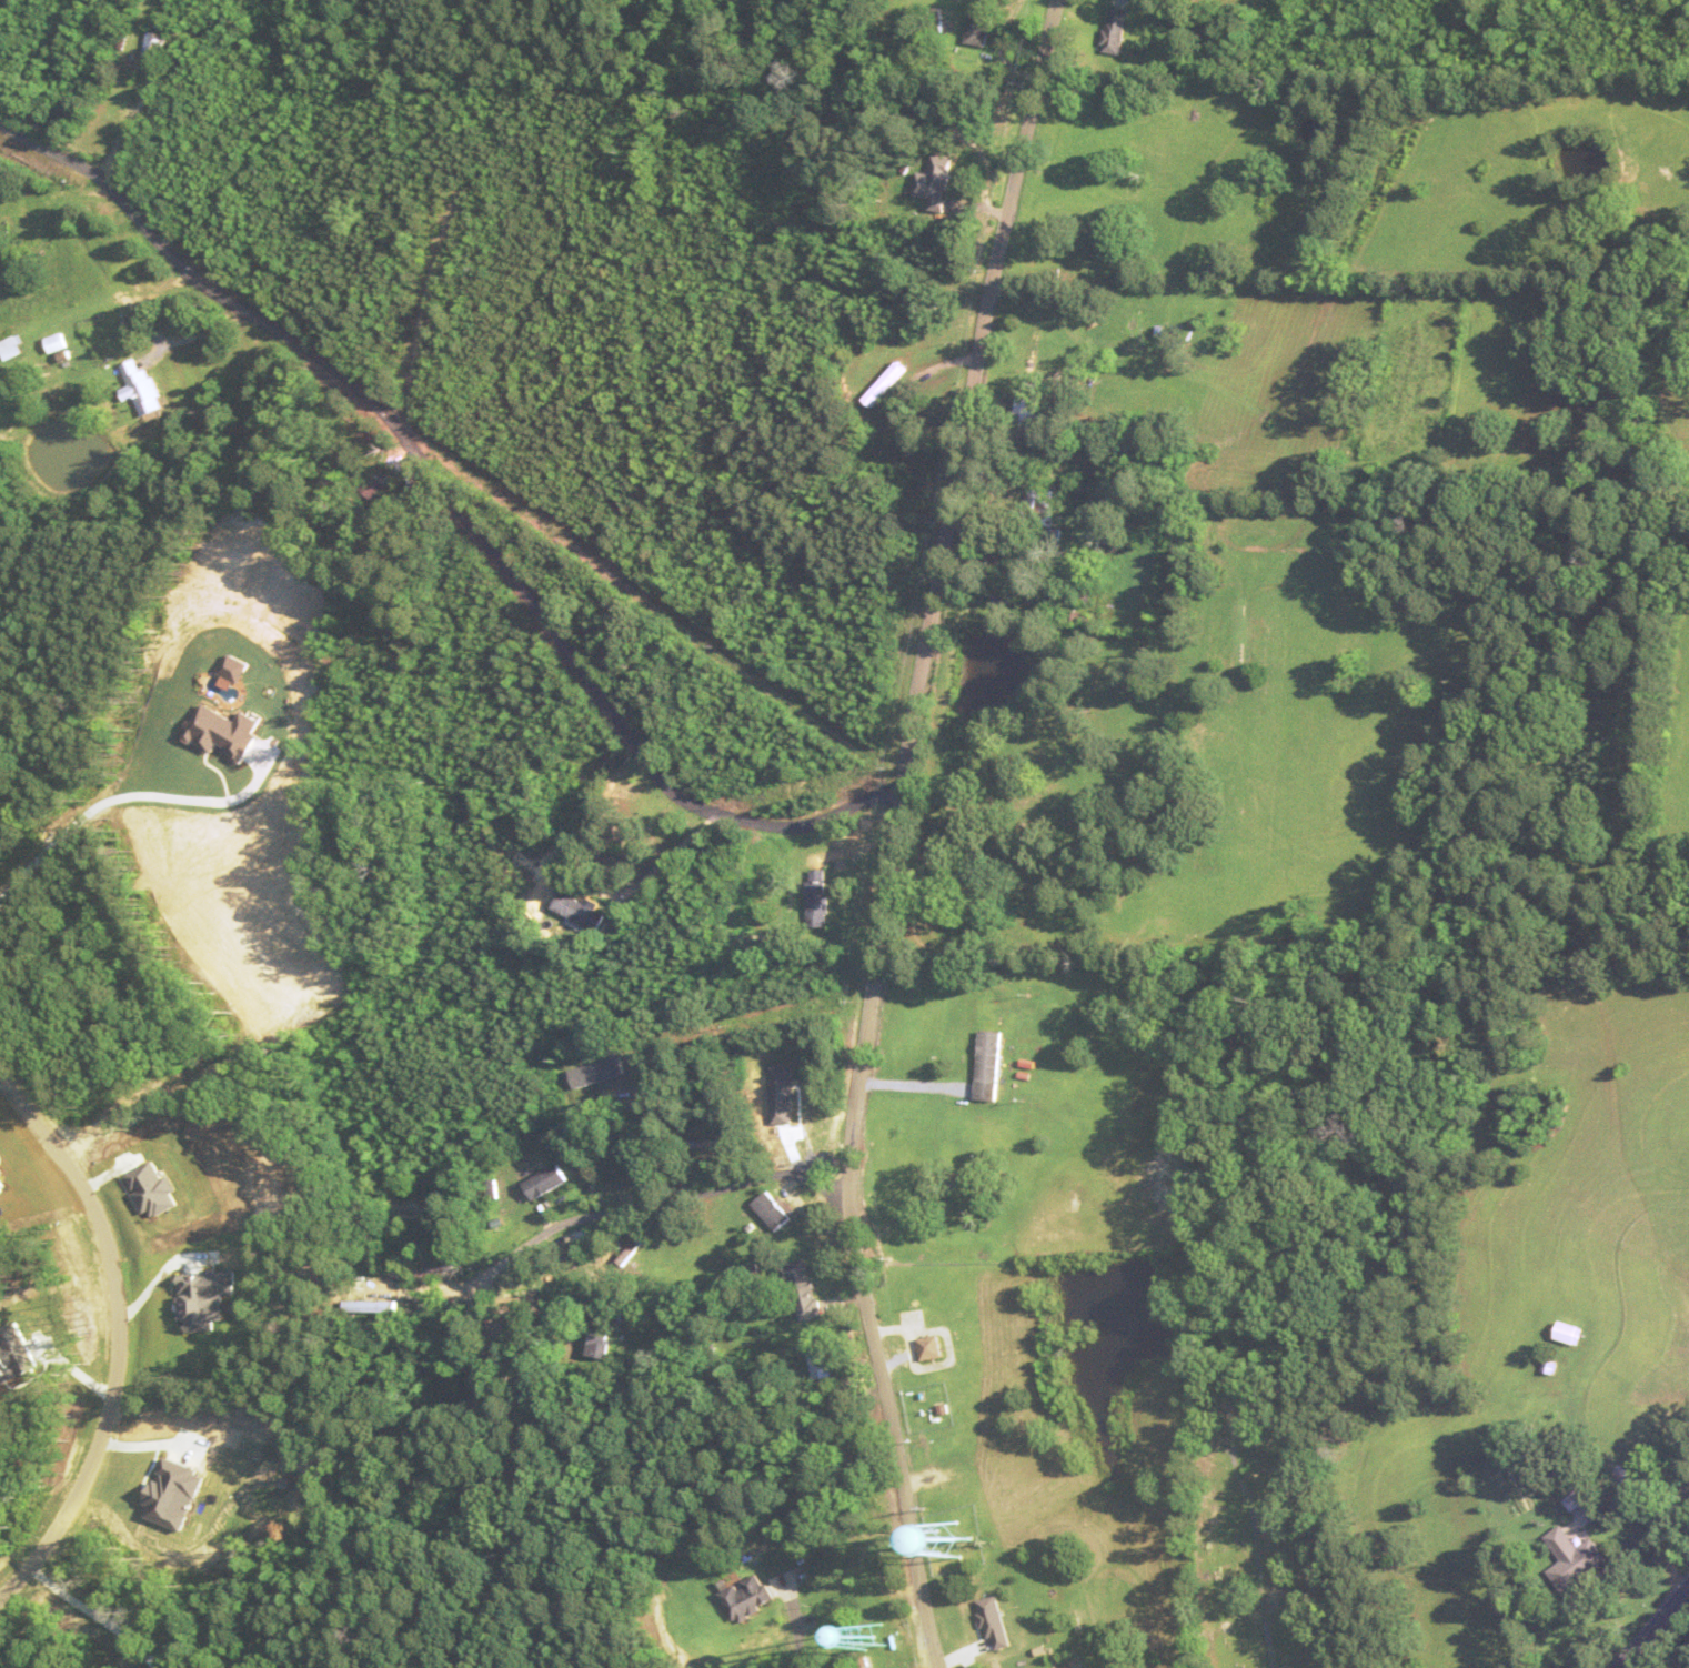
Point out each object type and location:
building: (1114, 30)
building: (978, 32)
building: (157, 37)
building: (11, 255)
building: (12, 348)
building: (142, 388)
building: (378, 485)
road: (455, 504)
road: (893, 832)
building: (818, 897)
building: (581, 911)
building: (989, 1065)
building: (697, 1144)
building: (645, 1170)
building: (549, 1182)
road: (651, 1203)
building: (774, 1212)
building: (634, 1247)
building: (804, 1289)
building: (1570, 1334)
road: (119, 1342)
building: (600, 1346)
building: (931, 1348)
building: (820, 1364)
water tower: (954, 1541)
building: (1571, 1560)
park: (1261, 1565)
building: (747, 1599)
building: (984, 1625)
road: (1653, 1626)
water tower: (876, 1637)

